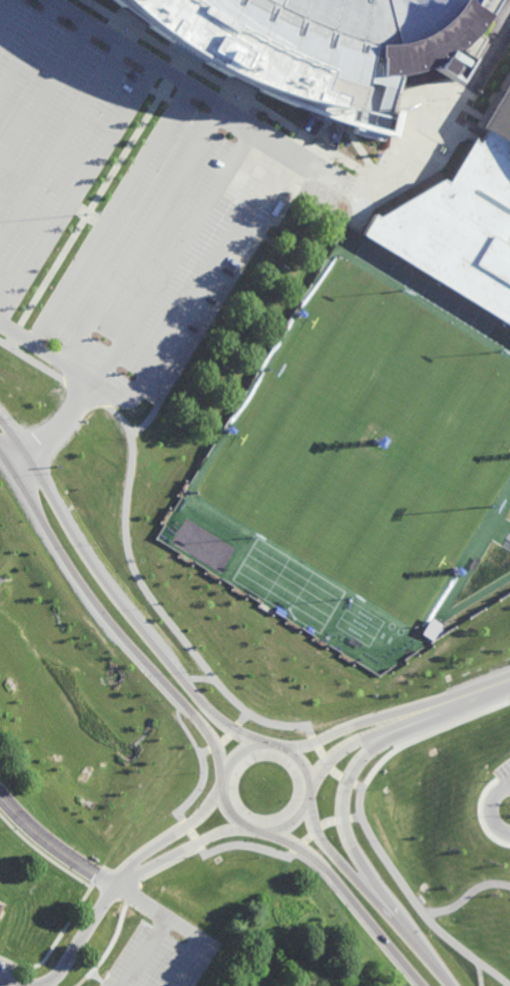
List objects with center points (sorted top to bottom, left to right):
road: (8, 13)
building: (349, 44)
stadium: (349, 44)
road: (29, 51)
road: (179, 79)
road: (47, 100)
building: (500, 117)
road: (430, 144)
road: (63, 145)
road: (79, 192)
parking lot: (119, 203)
road: (365, 210)
road: (108, 214)
building: (459, 228)
road: (144, 236)
road: (175, 255)
road: (205, 274)
road: (415, 296)
road: (221, 300)
road: (63, 363)
park: (408, 382)
road: (63, 422)
road: (10, 455)
park: (341, 501)
road: (503, 521)
road: (502, 530)
road: (498, 536)
road: (127, 543)
road: (479, 552)
road: (477, 595)
road: (115, 603)
road: (108, 629)
building: (432, 629)
road: (201, 683)
road: (482, 693)
road: (445, 706)
road: (182, 721)
road: (354, 725)
road: (360, 740)
road: (329, 763)
parking lot: (503, 776)
road: (348, 780)
road: (487, 809)
road: (181, 817)
road: (326, 824)
road: (257, 830)
road: (45, 837)
road: (171, 839)
road: (141, 849)
road: (181, 850)
road: (174, 873)
road: (106, 881)
road: (125, 881)
road: (347, 895)
road: (374, 895)
road: (467, 897)
road: (412, 899)
building: (2, 908)
road: (158, 912)
park: (233, 924)
road: (81, 938)
road: (59, 940)
road: (145, 952)
parking lot: (162, 954)
road: (185, 962)
road: (481, 974)
road: (84, 980)
road: (8, 982)

